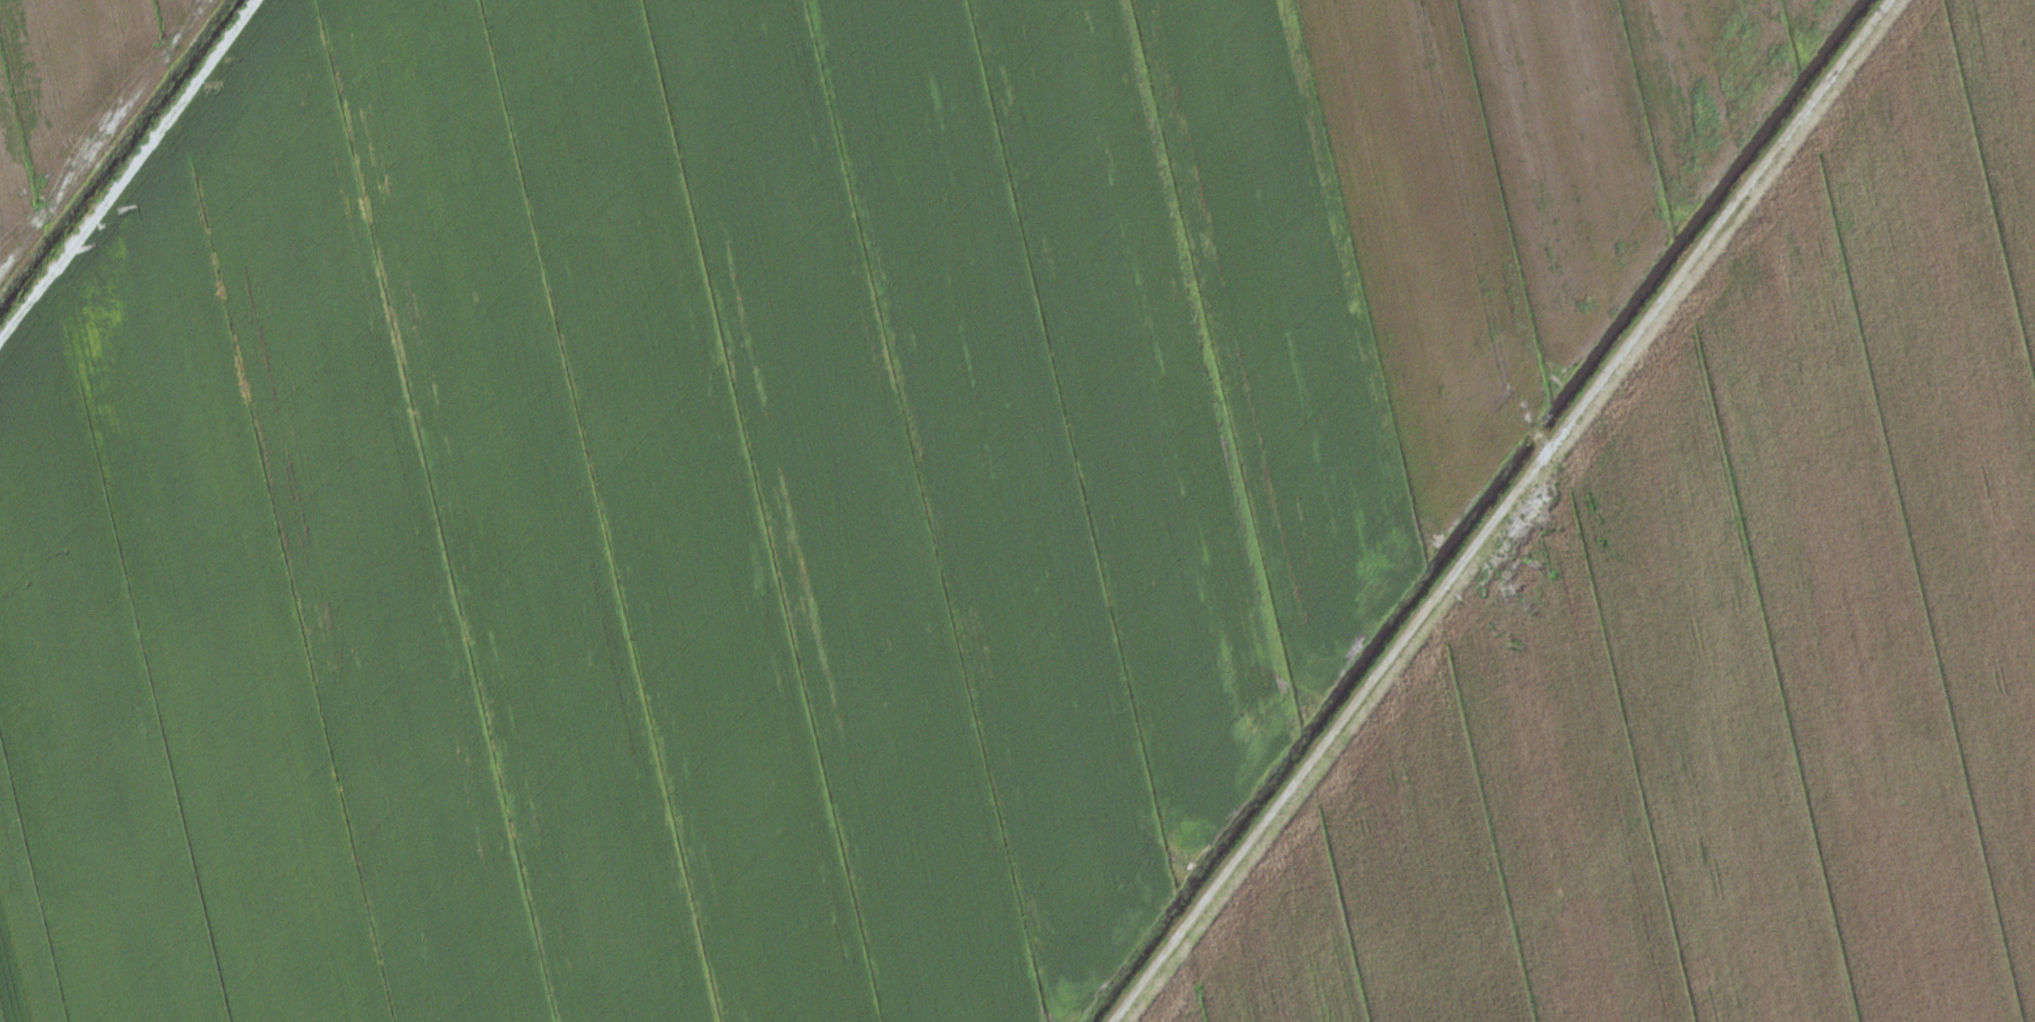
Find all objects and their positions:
crop: (73, 96)
road: (127, 167)
crop: (767, 476)
crop: (1722, 635)

